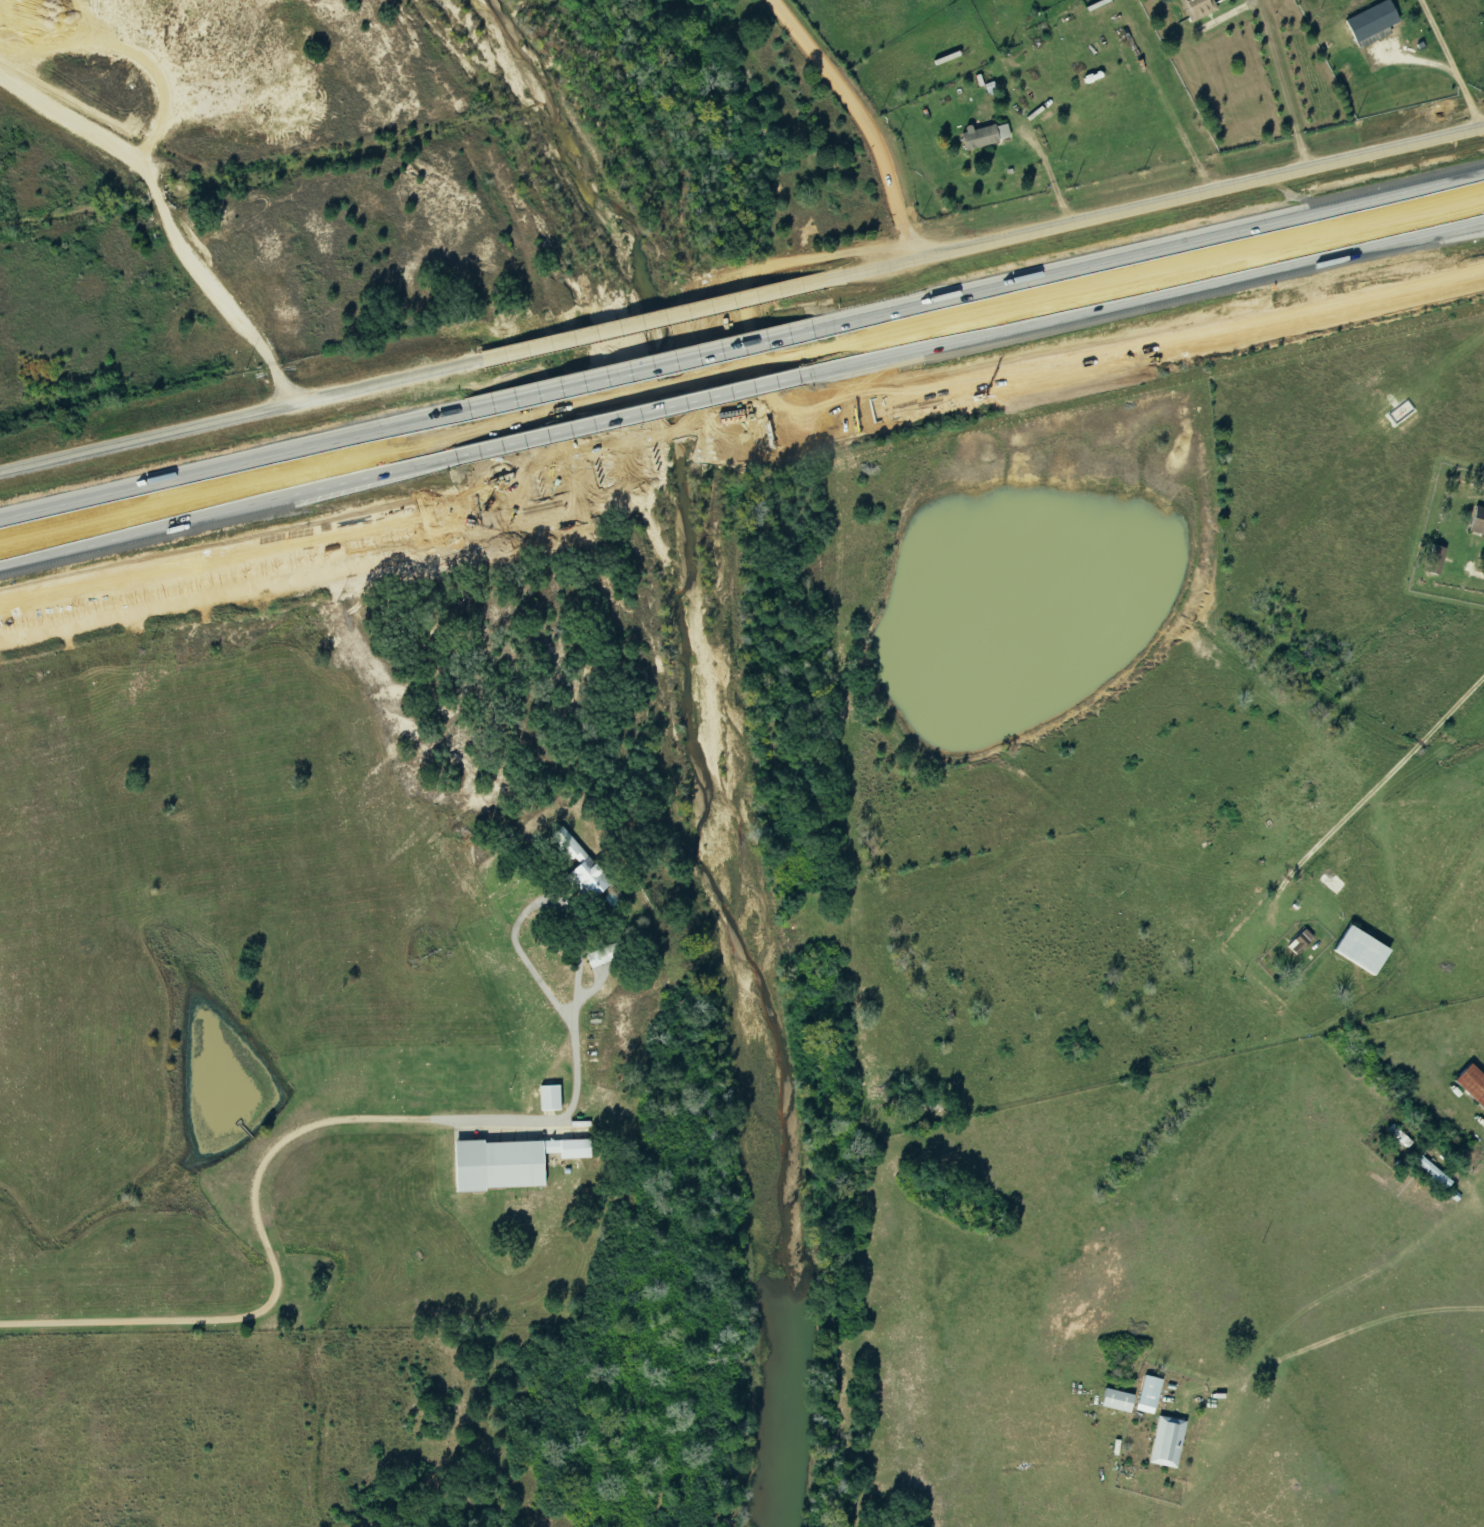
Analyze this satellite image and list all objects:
building: (1197, 8)
road: (1224, 14)
building: (1371, 24)
road: (1448, 64)
road: (1279, 85)
road: (1172, 112)
road: (864, 119)
building: (985, 135)
road: (1048, 179)
road: (1156, 203)
road: (1144, 252)
road: (1145, 295)
road: (656, 319)
road: (1179, 345)
road: (635, 371)
road: (633, 414)
road: (242, 415)
road: (656, 461)
road: (233, 465)
road: (229, 509)
building: (1476, 522)
building: (1435, 560)
road: (219, 562)
road: (17, 607)
river: (722, 743)
airport runway: (1449, 795)
building: (577, 866)
airport: (1361, 888)
building: (1299, 942)
road: (1251, 950)
building: (1360, 951)
building: (596, 957)
building: (1471, 1085)
building: (548, 1098)
road: (279, 1141)
building: (506, 1163)
building: (1433, 1172)
road: (1341, 1278)
road: (1327, 1338)
building: (1148, 1394)
building: (1115, 1400)
building: (1166, 1442)

